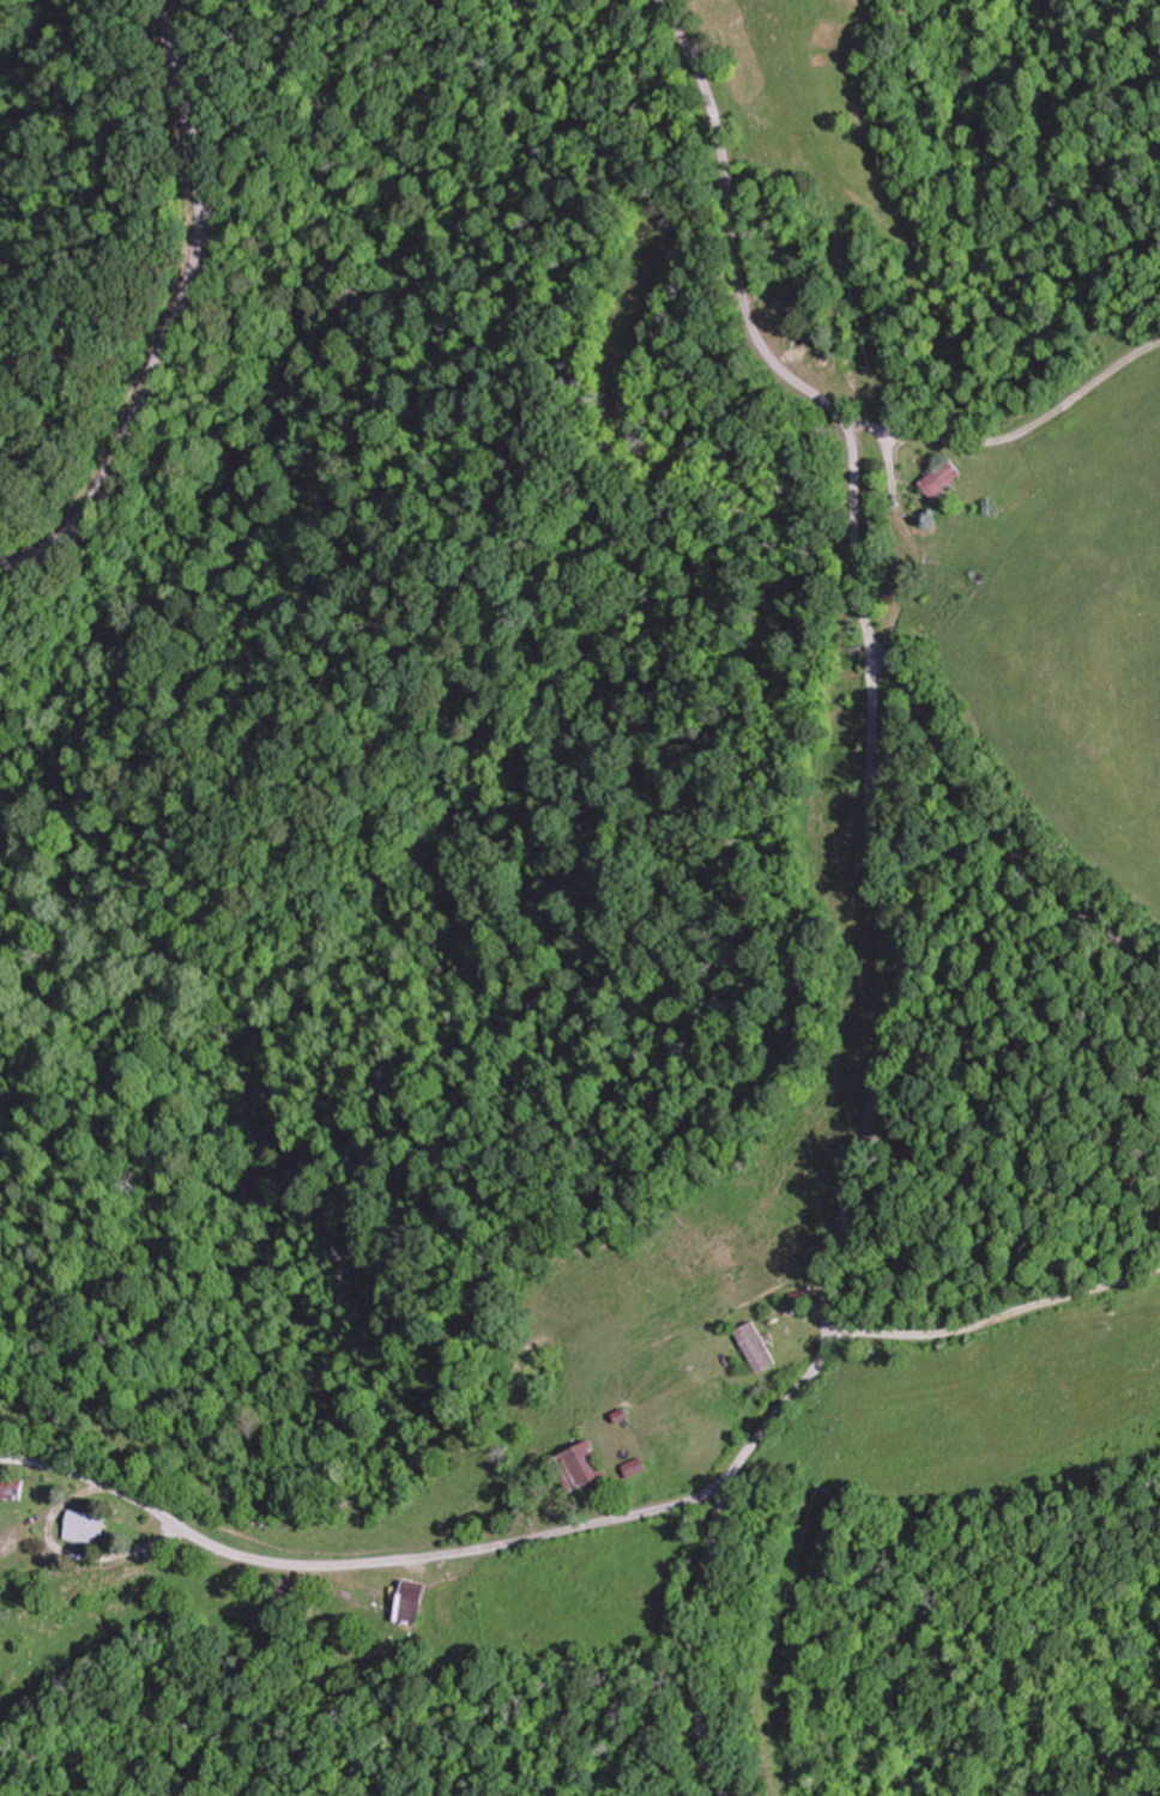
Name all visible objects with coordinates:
road: (182, 322)
road: (759, 332)
road: (1014, 430)
building: (944, 477)
road: (992, 824)
road: (995, 1320)
building: (761, 1348)
road: (804, 1379)
building: (588, 1464)
road: (64, 1467)
building: (642, 1467)
building: (17, 1489)
building: (92, 1528)
building: (298, 1591)
building: (404, 1597)
road: (694, 1638)

